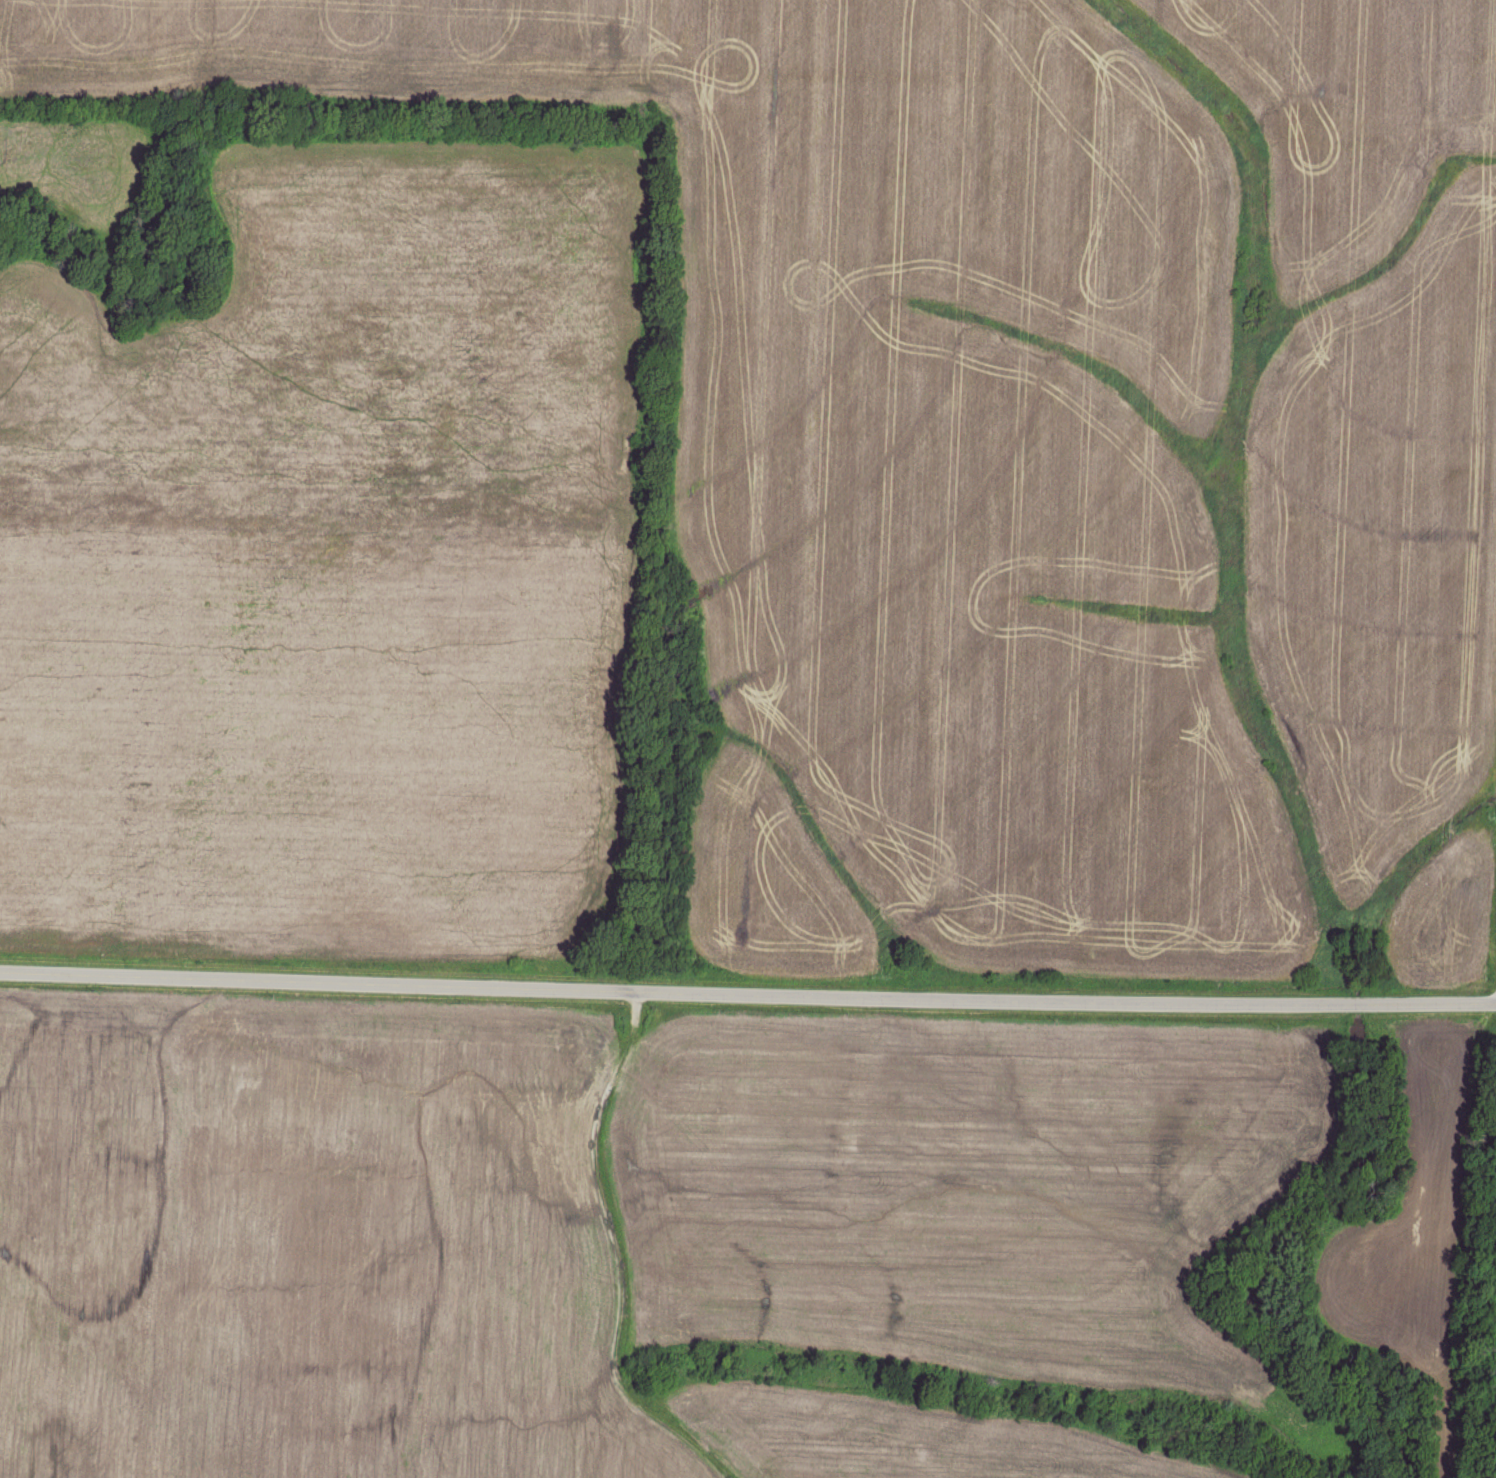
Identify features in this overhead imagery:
road: (748, 991)

